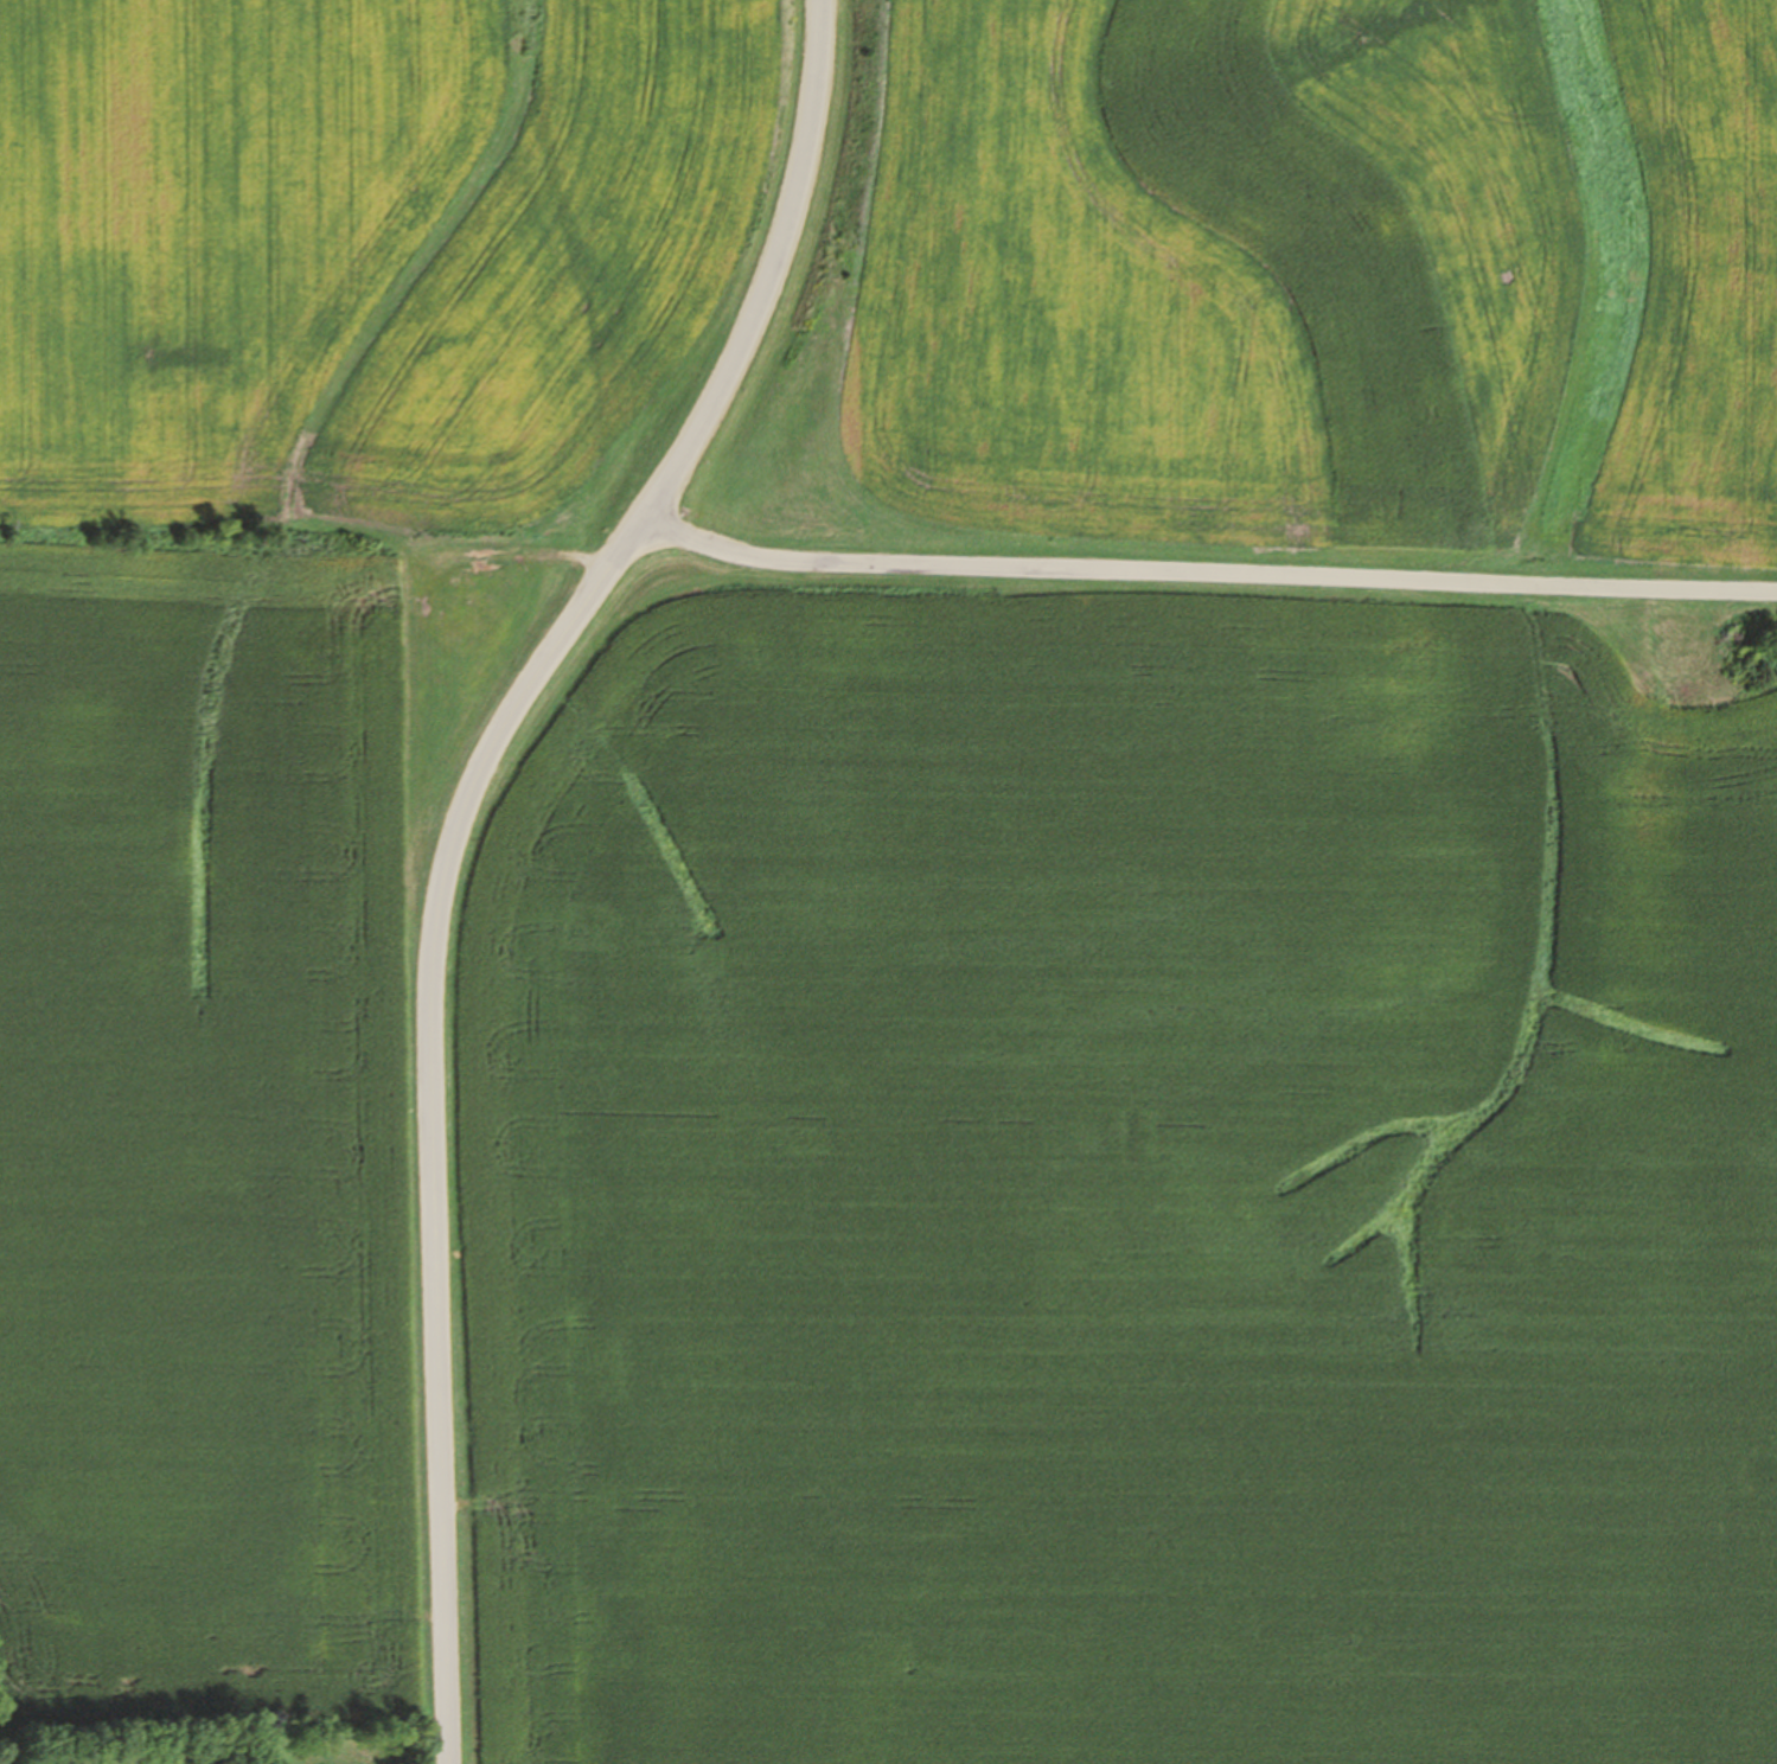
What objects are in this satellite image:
road: (753, 328)
road: (1207, 575)
road: (433, 1174)

